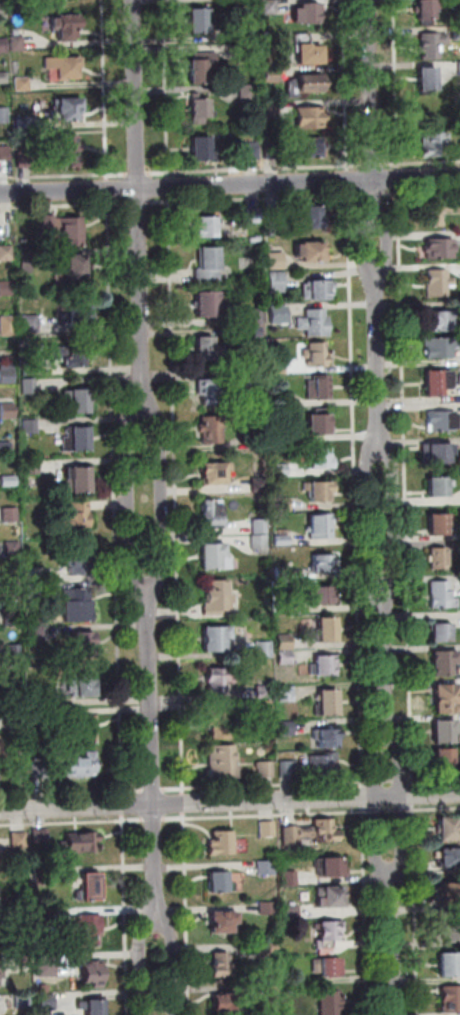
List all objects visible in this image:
building: (271, 6)
building: (2, 8)
building: (427, 11)
building: (311, 12)
building: (200, 20)
building: (60, 26)
building: (247, 33)
building: (457, 34)
building: (14, 42)
building: (2, 44)
building: (432, 46)
building: (248, 53)
building: (310, 53)
building: (61, 66)
building: (202, 67)
building: (272, 74)
building: (3, 76)
building: (428, 78)
building: (20, 82)
building: (305, 83)
road: (396, 85)
road: (345, 86)
road: (166, 88)
road: (105, 90)
building: (247, 92)
building: (68, 108)
building: (201, 110)
building: (272, 111)
building: (3, 113)
road: (371, 113)
building: (310, 117)
building: (21, 121)
building: (434, 144)
building: (312, 147)
building: (65, 148)
building: (203, 149)
building: (251, 150)
building: (4, 151)
building: (272, 151)
building: (23, 157)
road: (421, 163)
road: (372, 165)
road: (254, 169)
road: (138, 174)
road: (64, 176)
road: (399, 179)
road: (348, 181)
road: (229, 184)
road: (169, 187)
road: (107, 189)
road: (422, 193)
road: (373, 195)
road: (255, 199)
road: (139, 203)
road: (139, 204)
road: (65, 205)
building: (436, 211)
building: (254, 215)
building: (274, 215)
building: (311, 217)
building: (206, 227)
building: (66, 229)
building: (255, 239)
road: (385, 245)
road: (364, 246)
building: (440, 248)
building: (310, 250)
building: (6, 253)
building: (210, 258)
building: (30, 260)
building: (276, 260)
building: (77, 270)
building: (277, 281)
building: (438, 283)
building: (6, 288)
building: (316, 289)
building: (209, 303)
building: (278, 312)
building: (79, 315)
building: (254, 316)
building: (441, 321)
building: (314, 322)
building: (31, 324)
building: (8, 326)
building: (255, 331)
building: (441, 347)
building: (209, 349)
building: (316, 354)
building: (70, 356)
road: (378, 359)
building: (279, 366)
building: (29, 367)
building: (8, 374)
building: (246, 377)
building: (438, 381)
building: (30, 385)
building: (320, 387)
building: (212, 391)
building: (78, 400)
building: (280, 401)
building: (9, 411)
building: (443, 421)
building: (322, 423)
building: (31, 426)
building: (213, 429)
building: (279, 433)
building: (78, 439)
building: (259, 442)
building: (5, 447)
building: (437, 452)
building: (321, 458)
building: (34, 467)
building: (282, 470)
building: (215, 472)
building: (79, 479)
building: (10, 481)
building: (260, 483)
road: (406, 486)
building: (441, 486)
road: (356, 488)
building: (320, 490)
road: (176, 495)
road: (131, 496)
road: (161, 496)
road: (115, 497)
building: (213, 513)
building: (11, 515)
road: (393, 517)
road: (370, 519)
building: (77, 521)
building: (439, 524)
building: (260, 526)
building: (322, 526)
building: (283, 540)
building: (260, 541)
building: (13, 549)
building: (216, 556)
building: (439, 558)
building: (79, 559)
building: (324, 563)
building: (284, 572)
building: (36, 591)
building: (324, 594)
building: (442, 595)
building: (219, 597)
building: (79, 605)
building: (284, 609)
building: (14, 617)
building: (328, 629)
building: (443, 632)
building: (37, 634)
building: (218, 639)
building: (286, 642)
building: (87, 643)
building: (264, 649)
building: (15, 651)
building: (286, 658)
road: (387, 660)
building: (446, 663)
building: (326, 665)
building: (221, 679)
building: (85, 685)
building: (15, 688)
building: (264, 692)
building: (287, 694)
building: (447, 698)
building: (39, 701)
building: (328, 703)
building: (265, 708)
building: (41, 717)
building: (19, 723)
building: (219, 723)
building: (87, 729)
building: (288, 729)
building: (446, 731)
building: (328, 738)
building: (1, 749)
road: (153, 753)
building: (18, 756)
building: (447, 761)
building: (223, 762)
building: (324, 764)
building: (83, 766)
building: (266, 769)
building: (289, 769)
building: (40, 771)
building: (21, 778)
road: (434, 779)
road: (402, 780)
road: (375, 781)
road: (389, 782)
road: (266, 785)
road: (154, 790)
road: (72, 792)
road: (414, 795)
road: (364, 797)
road: (230, 802)
road: (184, 803)
road: (376, 803)
road: (403, 804)
road: (123, 805)
road: (434, 810)
road: (403, 811)
road: (376, 812)
road: (389, 812)
road: (266, 816)
road: (154, 820)
road: (73, 822)
building: (450, 828)
building: (267, 829)
building: (312, 833)
building: (42, 836)
building: (19, 839)
building: (83, 842)
building: (221, 844)
building: (451, 858)
building: (333, 867)
building: (266, 868)
building: (42, 878)
building: (291, 879)
building: (219, 882)
building: (91, 888)
building: (451, 894)
building: (331, 897)
building: (21, 902)
building: (268, 909)
road: (416, 909)
road: (366, 911)
road: (187, 913)
building: (292, 913)
road: (126, 915)
building: (44, 918)
building: (22, 919)
building: (223, 922)
building: (90, 929)
building: (453, 932)
building: (328, 935)
road: (393, 943)
building: (272, 948)
building: (23, 959)
building: (42, 962)
road: (140, 964)
road: (174, 965)
building: (223, 965)
building: (450, 965)
building: (328, 967)
building: (2, 973)
building: (94, 974)
building: (272, 992)
building: (451, 999)
building: (23, 1002)
building: (227, 1002)
building: (47, 1003)
building: (330, 1003)
building: (94, 1007)

